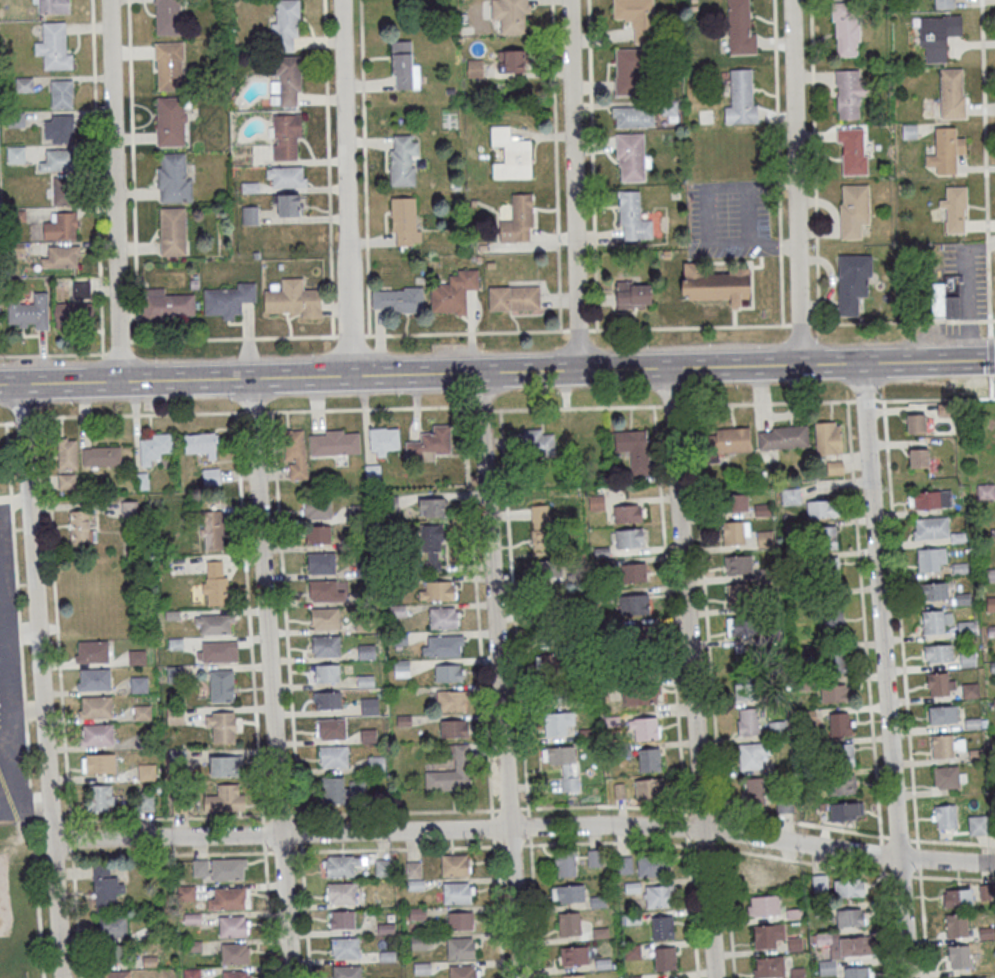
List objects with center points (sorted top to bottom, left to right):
building: (943, 4)
building: (54, 6)
building: (167, 16)
building: (511, 16)
building: (636, 19)
building: (285, 25)
building: (739, 29)
building: (844, 29)
building: (937, 36)
building: (53, 46)
building: (511, 61)
building: (403, 64)
building: (169, 66)
building: (630, 71)
building: (289, 81)
building: (23, 84)
building: (61, 93)
building: (849, 94)
building: (951, 95)
building: (740, 100)
building: (668, 109)
road: (984, 117)
building: (631, 118)
building: (15, 119)
road: (777, 119)
building: (170, 120)
building: (59, 128)
building: (908, 133)
building: (286, 137)
building: (852, 152)
building: (945, 152)
building: (15, 154)
building: (511, 154)
building: (630, 157)
building: (58, 160)
building: (402, 161)
road: (814, 161)
road: (554, 164)
road: (591, 164)
road: (327, 167)
road: (364, 167)
road: (96, 176)
building: (286, 176)
building: (172, 177)
road: (794, 182)
road: (574, 183)
road: (344, 186)
building: (64, 190)
road: (113, 190)
building: (289, 205)
building: (954, 210)
building: (853, 212)
building: (249, 215)
building: (632, 217)
building: (518, 220)
parking lot: (727, 220)
building: (405, 221)
building: (61, 227)
building: (172, 231)
road: (750, 238)
road: (987, 242)
road: (780, 245)
building: (61, 257)
road: (135, 271)
building: (714, 283)
building: (851, 283)
road: (781, 288)
road: (968, 288)
building: (81, 289)
road: (988, 292)
building: (453, 293)
building: (631, 296)
building: (513, 298)
building: (294, 299)
building: (945, 299)
building: (228, 300)
building: (396, 301)
building: (166, 305)
building: (29, 313)
building: (75, 315)
road: (986, 319)
road: (965, 320)
road: (880, 321)
road: (800, 323)
road: (688, 326)
parking lot: (953, 326)
road: (578, 329)
road: (465, 331)
road: (350, 334)
road: (992, 342)
road: (51, 354)
road: (897, 362)
road: (399, 372)
road: (865, 399)
road: (934, 399)
road: (768, 403)
road: (670, 405)
road: (367, 408)
road: (481, 408)
road: (576, 408)
road: (252, 411)
building: (943, 411)
road: (137, 414)
road: (21, 418)
road: (5, 422)
building: (913, 425)
building: (782, 437)
building: (828, 438)
building: (384, 441)
building: (726, 441)
building: (334, 442)
building: (587, 443)
building: (201, 444)
building: (431, 444)
building: (532, 444)
building: (154, 447)
building: (634, 449)
building: (67, 454)
building: (295, 454)
road: (7, 458)
building: (101, 458)
building: (916, 459)
building: (834, 467)
building: (372, 472)
building: (211, 476)
building: (66, 481)
building: (984, 493)
building: (790, 496)
road: (10, 499)
road: (14, 499)
building: (928, 501)
building: (736, 502)
building: (433, 507)
building: (821, 508)
building: (129, 509)
building: (316, 509)
building: (628, 513)
building: (540, 526)
building: (80, 528)
building: (212, 530)
building: (929, 530)
building: (735, 532)
building: (318, 534)
building: (629, 538)
building: (827, 539)
building: (957, 539)
building: (432, 547)
building: (929, 560)
road: (14, 562)
building: (321, 563)
building: (738, 564)
building: (958, 570)
building: (634, 572)
building: (547, 574)
building: (988, 576)
building: (215, 582)
building: (437, 590)
building: (324, 591)
building: (932, 593)
building: (743, 596)
building: (961, 601)
building: (632, 604)
building: (989, 606)
road: (477, 607)
road: (669, 611)
road: (513, 612)
road: (705, 612)
road: (248, 613)
road: (284, 616)
building: (443, 617)
building: (325, 618)
building: (832, 618)
road: (56, 621)
road: (863, 622)
building: (545, 623)
building: (934, 623)
building: (214, 624)
road: (899, 624)
building: (740, 628)
building: (964, 630)
road: (18, 631)
building: (990, 632)
road: (20, 636)
building: (635, 641)
building: (326, 645)
building: (442, 645)
building: (214, 651)
building: (91, 652)
building: (936, 655)
building: (137, 657)
building: (833, 660)
building: (966, 661)
road: (6, 662)
building: (740, 666)
building: (401, 668)
building: (992, 669)
road: (22, 670)
road: (884, 671)
road: (691, 672)
building: (175, 673)
building: (327, 673)
building: (449, 673)
road: (498, 674)
building: (546, 676)
road: (268, 677)
building: (93, 679)
road: (40, 680)
building: (139, 684)
building: (221, 685)
building: (937, 686)
building: (744, 689)
building: (968, 693)
building: (640, 694)
building: (833, 694)
building: (327, 700)
building: (450, 700)
building: (369, 705)
building: (993, 706)
building: (95, 707)
road: (24, 709)
road: (26, 711)
building: (142, 712)
building: (940, 717)
building: (747, 723)
building: (839, 724)
building: (222, 726)
building: (971, 726)
building: (331, 728)
building: (453, 728)
building: (643, 728)
building: (97, 734)
building: (944, 748)
road: (27, 755)
building: (843, 755)
building: (334, 756)
building: (752, 757)
building: (974, 757)
building: (649, 759)
building: (98, 763)
building: (376, 763)
building: (563, 764)
building: (224, 765)
building: (451, 772)
building: (946, 779)
building: (842, 785)
building: (647, 788)
building: (342, 789)
road: (1, 790)
building: (753, 793)
building: (100, 797)
building: (225, 798)
road: (23, 800)
road: (31, 800)
building: (145, 800)
road: (605, 805)
road: (509, 808)
road: (702, 810)
road: (394, 811)
building: (846, 811)
road: (491, 813)
road: (281, 815)
road: (166, 817)
road: (262, 819)
building: (944, 819)
road: (37, 820)
road: (52, 820)
road: (801, 823)
road: (528, 825)
road: (685, 826)
road: (492, 827)
road: (517, 827)
building: (976, 827)
road: (722, 829)
road: (262, 832)
road: (298, 832)
road: (71, 838)
road: (899, 838)
road: (952, 841)
road: (609, 842)
road: (512, 844)
road: (497, 845)
road: (706, 845)
road: (392, 848)
road: (282, 851)
road: (168, 853)
road: (881, 853)
road: (53, 856)
road: (39, 857)
building: (594, 857)
road: (917, 858)
road: (803, 861)
road: (988, 862)
building: (565, 863)
building: (624, 863)
building: (455, 864)
building: (653, 865)
building: (340, 866)
building: (382, 868)
building: (219, 869)
building: (771, 873)
road: (900, 875)
road: (952, 878)
building: (849, 887)
building: (105, 888)
building: (458, 892)
road: (37, 893)
building: (341, 893)
building: (568, 893)
building: (983, 894)
building: (657, 896)
building: (223, 899)
building: (956, 900)
building: (763, 906)
road: (497, 907)
road: (534, 907)
road: (691, 907)
road: (728, 908)
road: (268, 910)
road: (304, 910)
road: (75, 913)
building: (850, 917)
building: (341, 919)
building: (460, 920)
road: (886, 920)
road: (923, 922)
building: (571, 924)
building: (113, 926)
building: (232, 926)
building: (663, 927)
building: (956, 928)
building: (768, 936)
building: (986, 936)
building: (851, 946)
building: (345, 947)
building: (461, 947)
building: (632, 951)
building: (113, 953)
building: (234, 954)
building: (574, 955)
building: (665, 958)
building: (957, 959)
building: (768, 967)
building: (827, 967)
building: (346, 971)
building: (462, 971)
building: (857, 972)
building: (192, 973)
building: (115, 974)
building: (235, 974)
building: (574, 976)
building: (633, 976)

